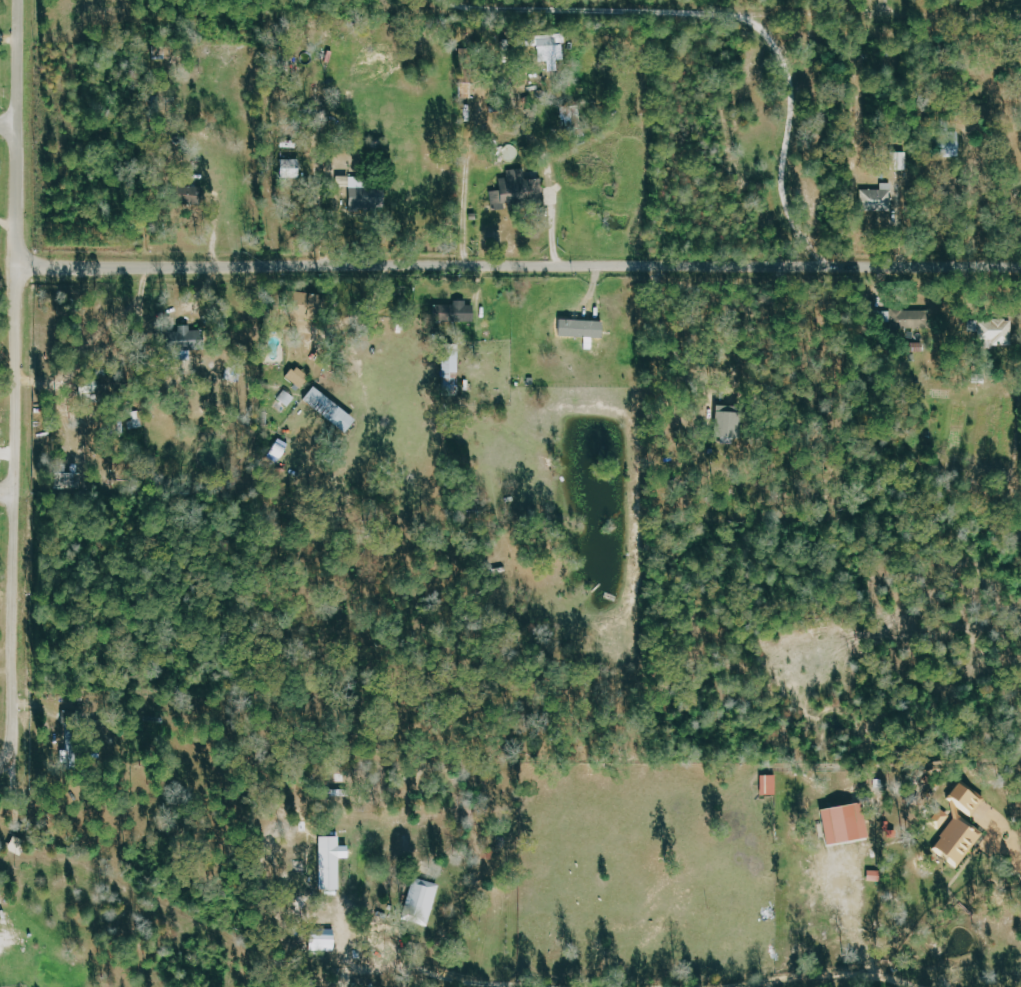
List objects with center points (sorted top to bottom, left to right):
road: (883, 8)
road: (952, 15)
building: (548, 47)
building: (299, 69)
road: (9, 124)
road: (18, 133)
building: (951, 145)
road: (468, 160)
building: (287, 168)
building: (517, 189)
building: (877, 199)
road: (519, 267)
building: (453, 312)
building: (903, 319)
building: (995, 333)
building: (594, 334)
building: (192, 338)
building: (449, 369)
building: (301, 377)
road: (18, 380)
building: (334, 410)
building: (720, 421)
road: (16, 625)
building: (73, 743)
building: (767, 785)
building: (963, 799)
building: (938, 819)
building: (841, 823)
building: (956, 841)
road: (1012, 847)
building: (335, 862)
building: (0, 894)
building: (426, 899)
road: (837, 974)
road: (451, 975)

